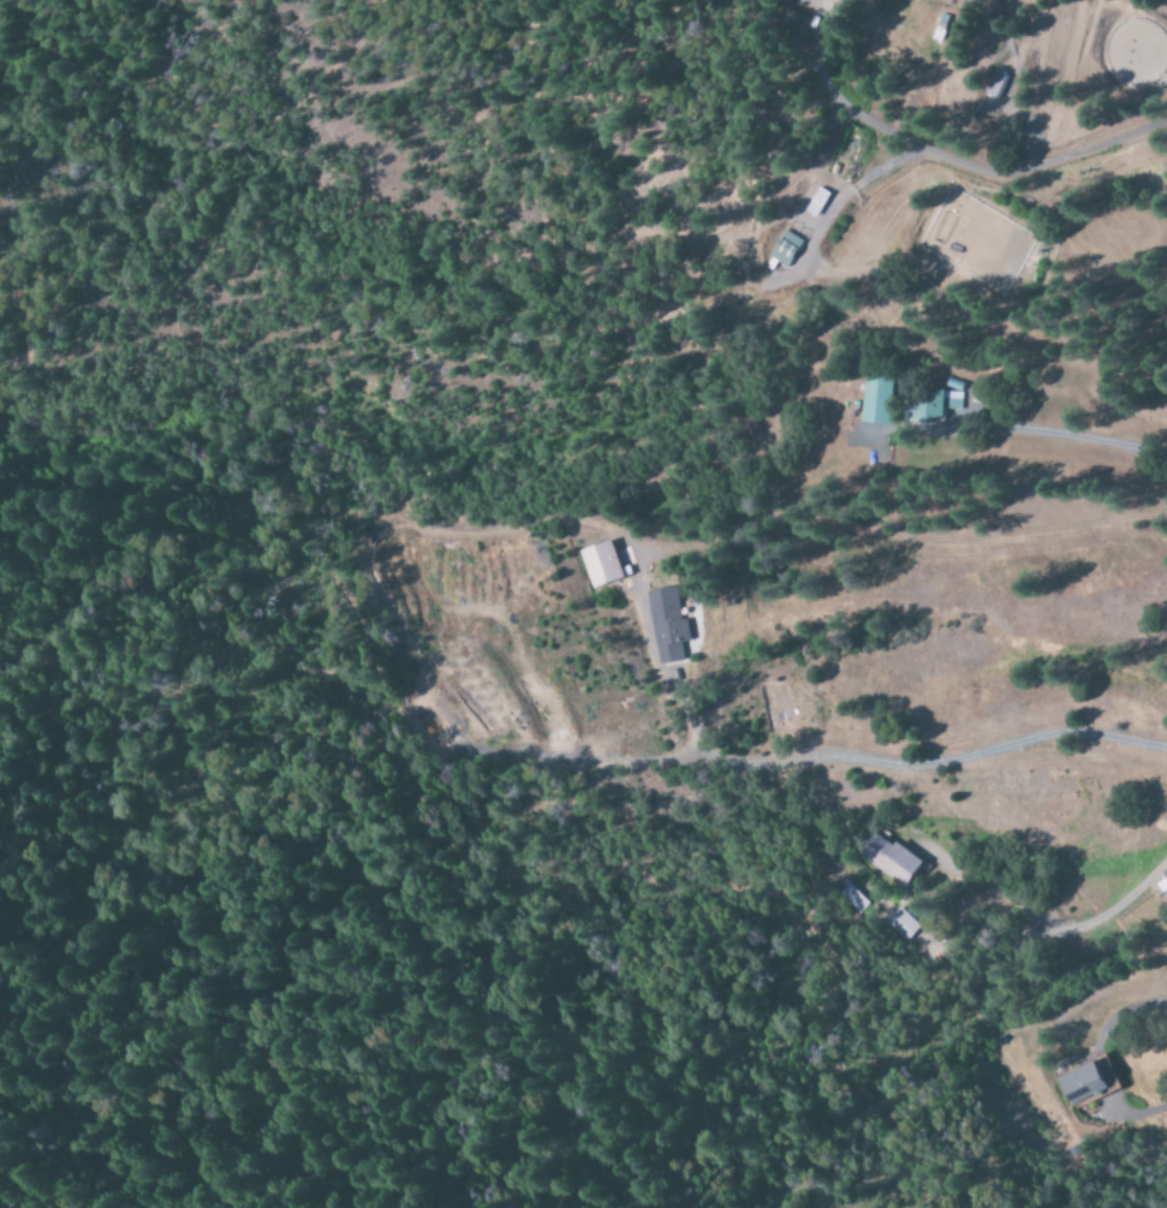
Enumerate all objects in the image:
building: (797, 23)
building: (998, 85)
building: (788, 250)
building: (879, 399)
building: (937, 406)
road: (1036, 432)
building: (605, 565)
building: (669, 625)
building: (891, 861)
building: (900, 926)
building: (1089, 1082)

